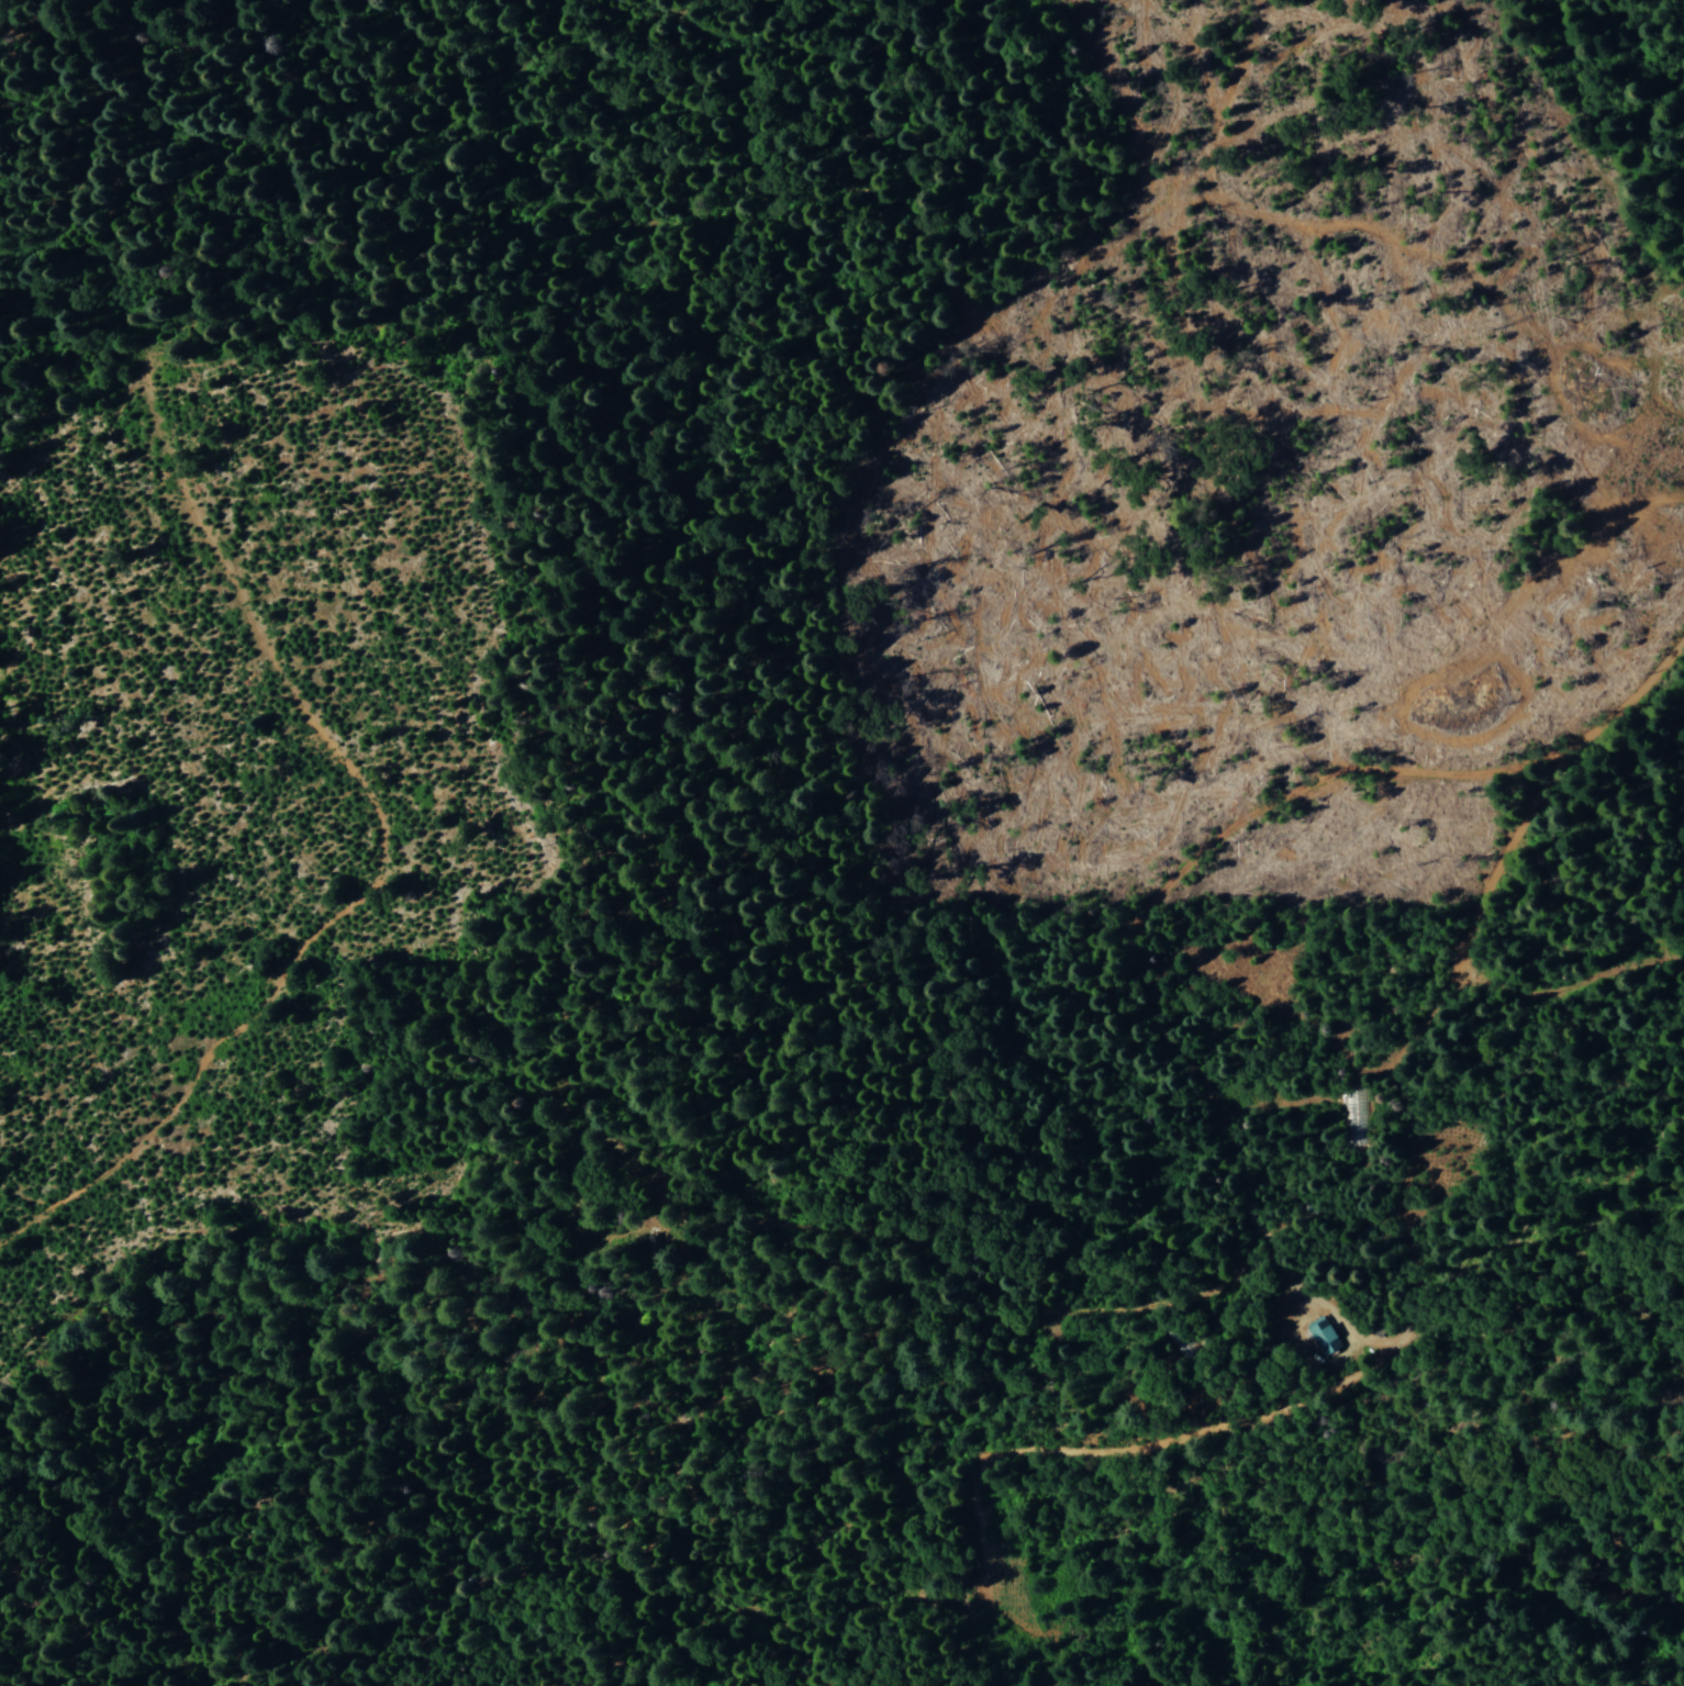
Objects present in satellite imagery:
building: (1320, 1337)

